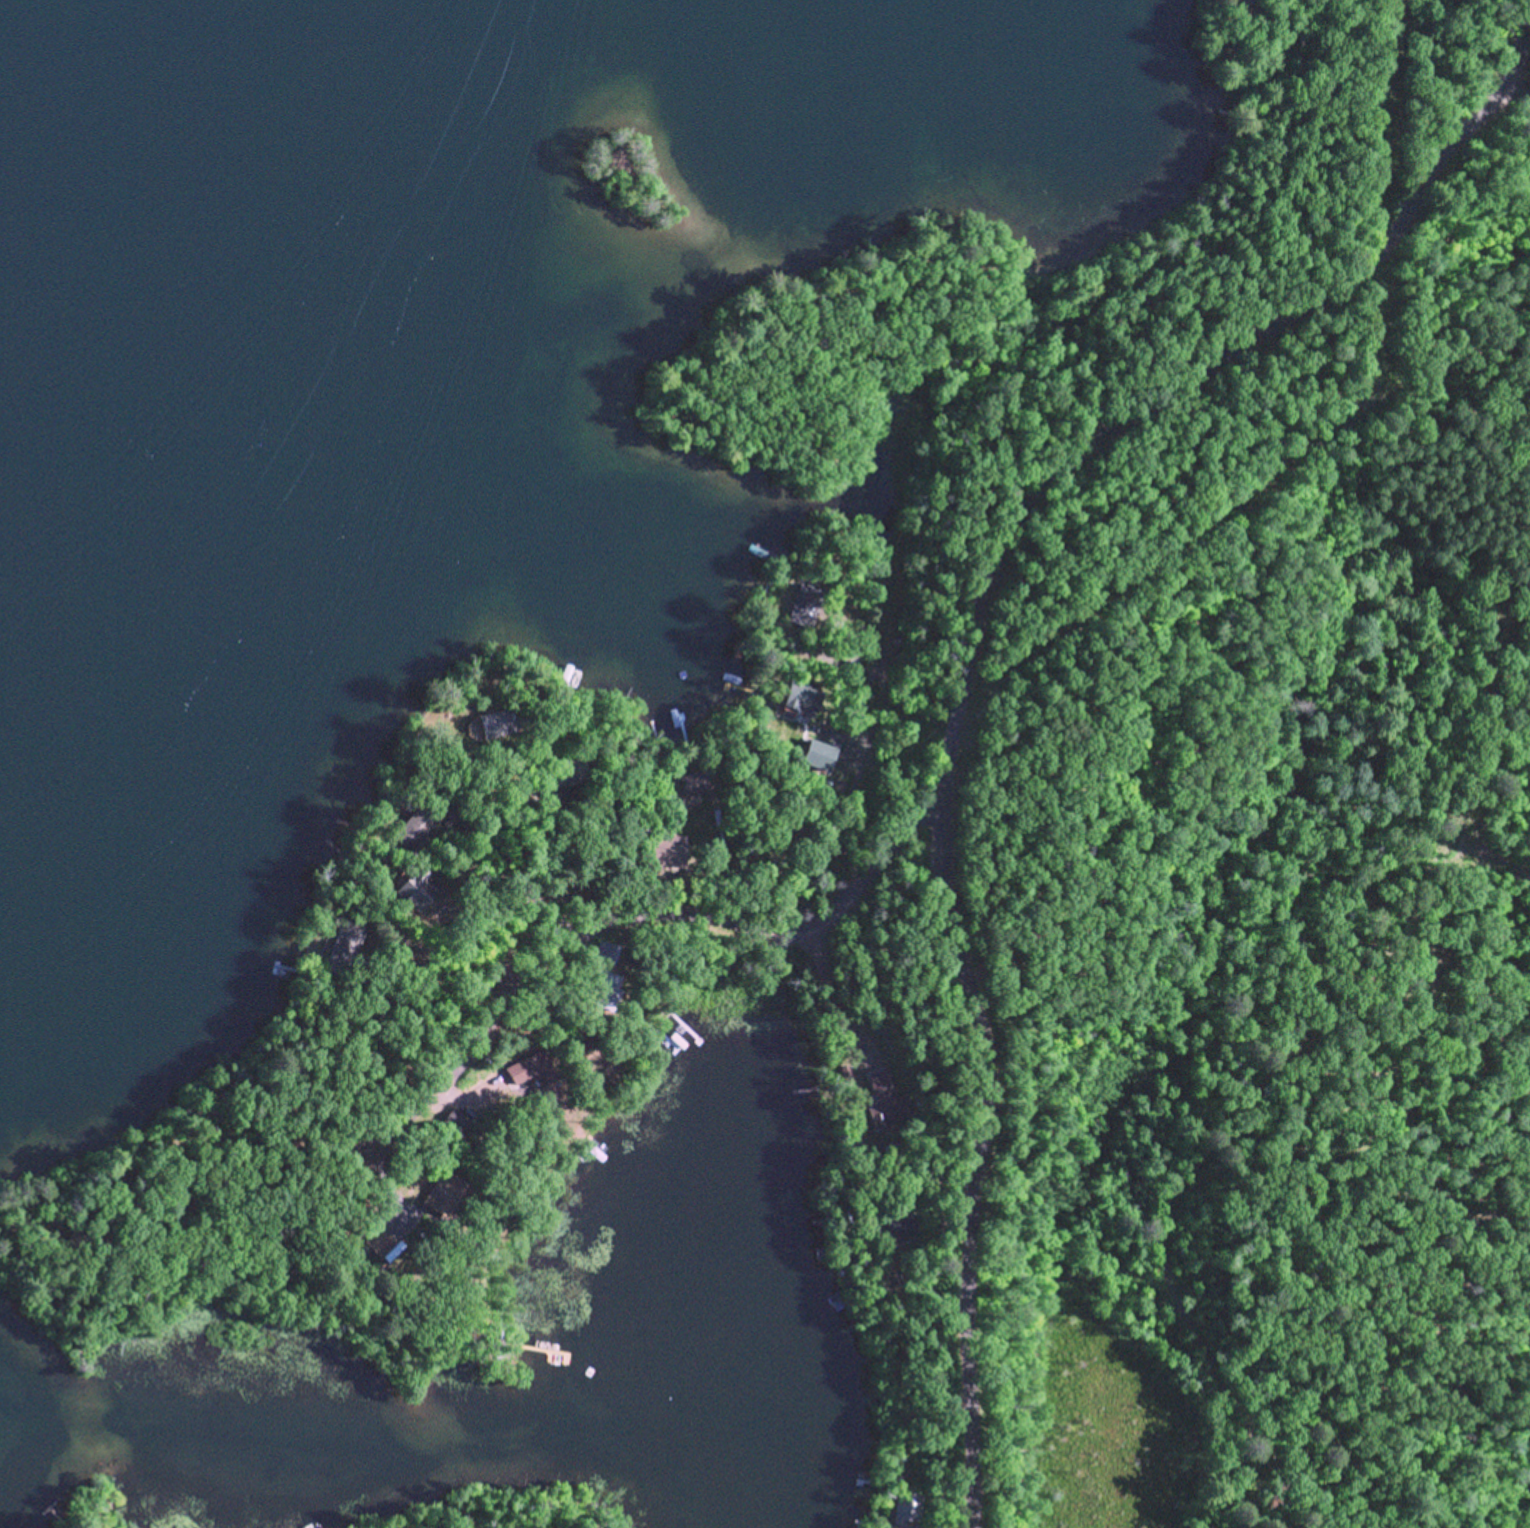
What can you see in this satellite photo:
building: (1242, 2)
road: (1520, 93)
building: (800, 601)
building: (906, 629)
building: (852, 646)
road: (978, 654)
building: (790, 694)
building: (499, 718)
building: (815, 750)
building: (566, 769)
road: (848, 779)
building: (692, 780)
building: (517, 794)
building: (481, 800)
building: (413, 824)
building: (662, 847)
building: (343, 860)
building: (413, 884)
building: (350, 908)
road: (670, 940)
building: (342, 945)
road: (541, 950)
building: (601, 951)
building: (600, 988)
building: (388, 1012)
building: (581, 1040)
building: (529, 1068)
building: (841, 1072)
road: (1307, 1086)
building: (883, 1097)
building: (453, 1119)
building: (891, 1148)
building: (445, 1192)
building: (901, 1221)
building: (381, 1240)
building: (72, 1242)
building: (881, 1483)
building: (904, 1503)

